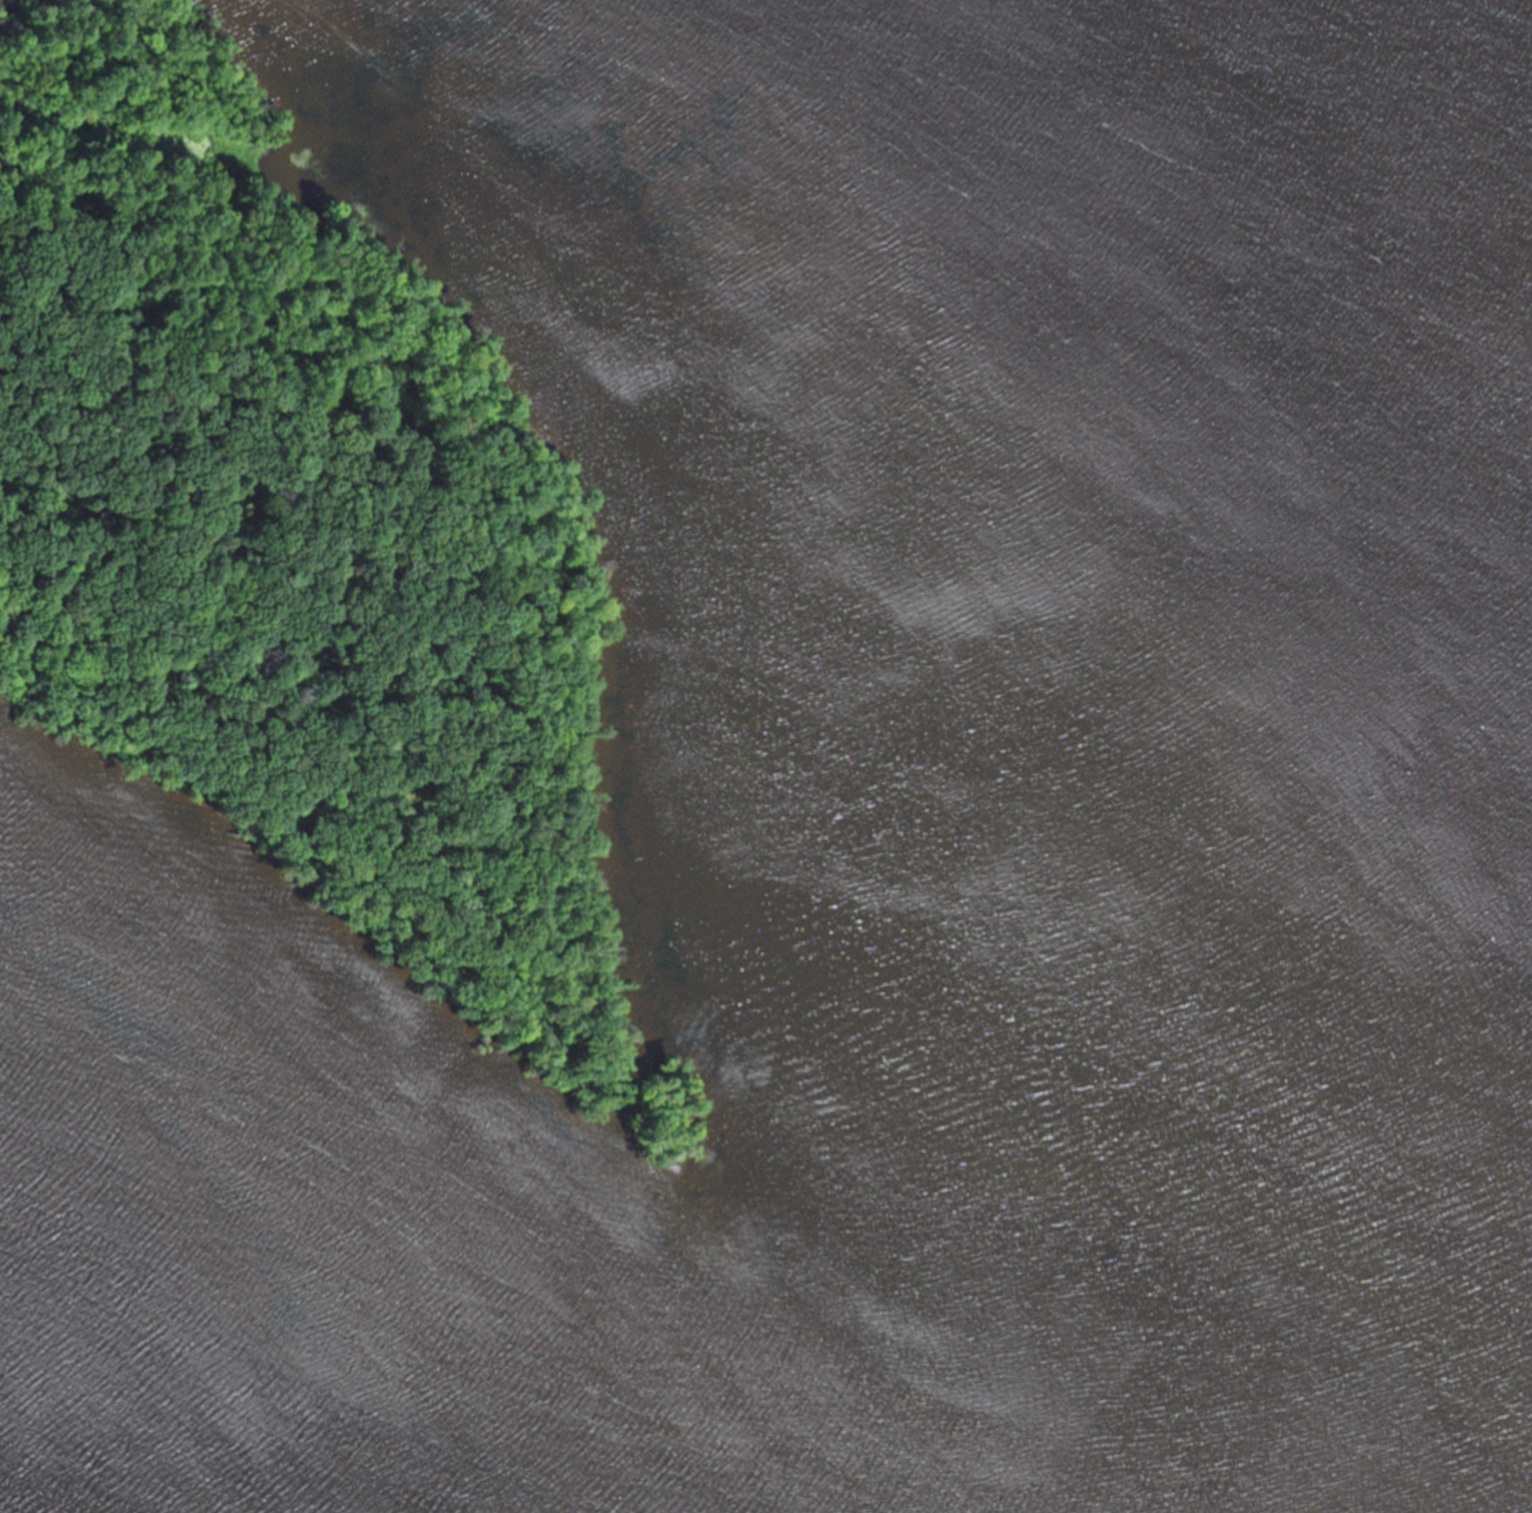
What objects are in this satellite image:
river: (299, 1311)

